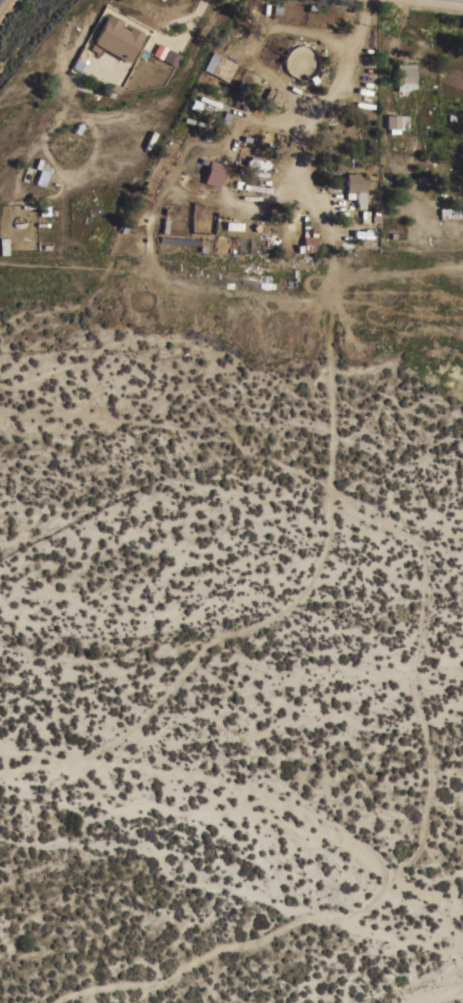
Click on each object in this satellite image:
road: (197, 8)
building: (116, 38)
road: (161, 39)
building: (170, 57)
building: (218, 66)
building: (404, 76)
building: (272, 96)
building: (195, 104)
road: (313, 107)
building: (395, 122)
building: (213, 172)
building: (41, 175)
building: (255, 187)
building: (355, 187)
building: (447, 212)
building: (42, 225)
building: (308, 242)
building: (3, 245)

